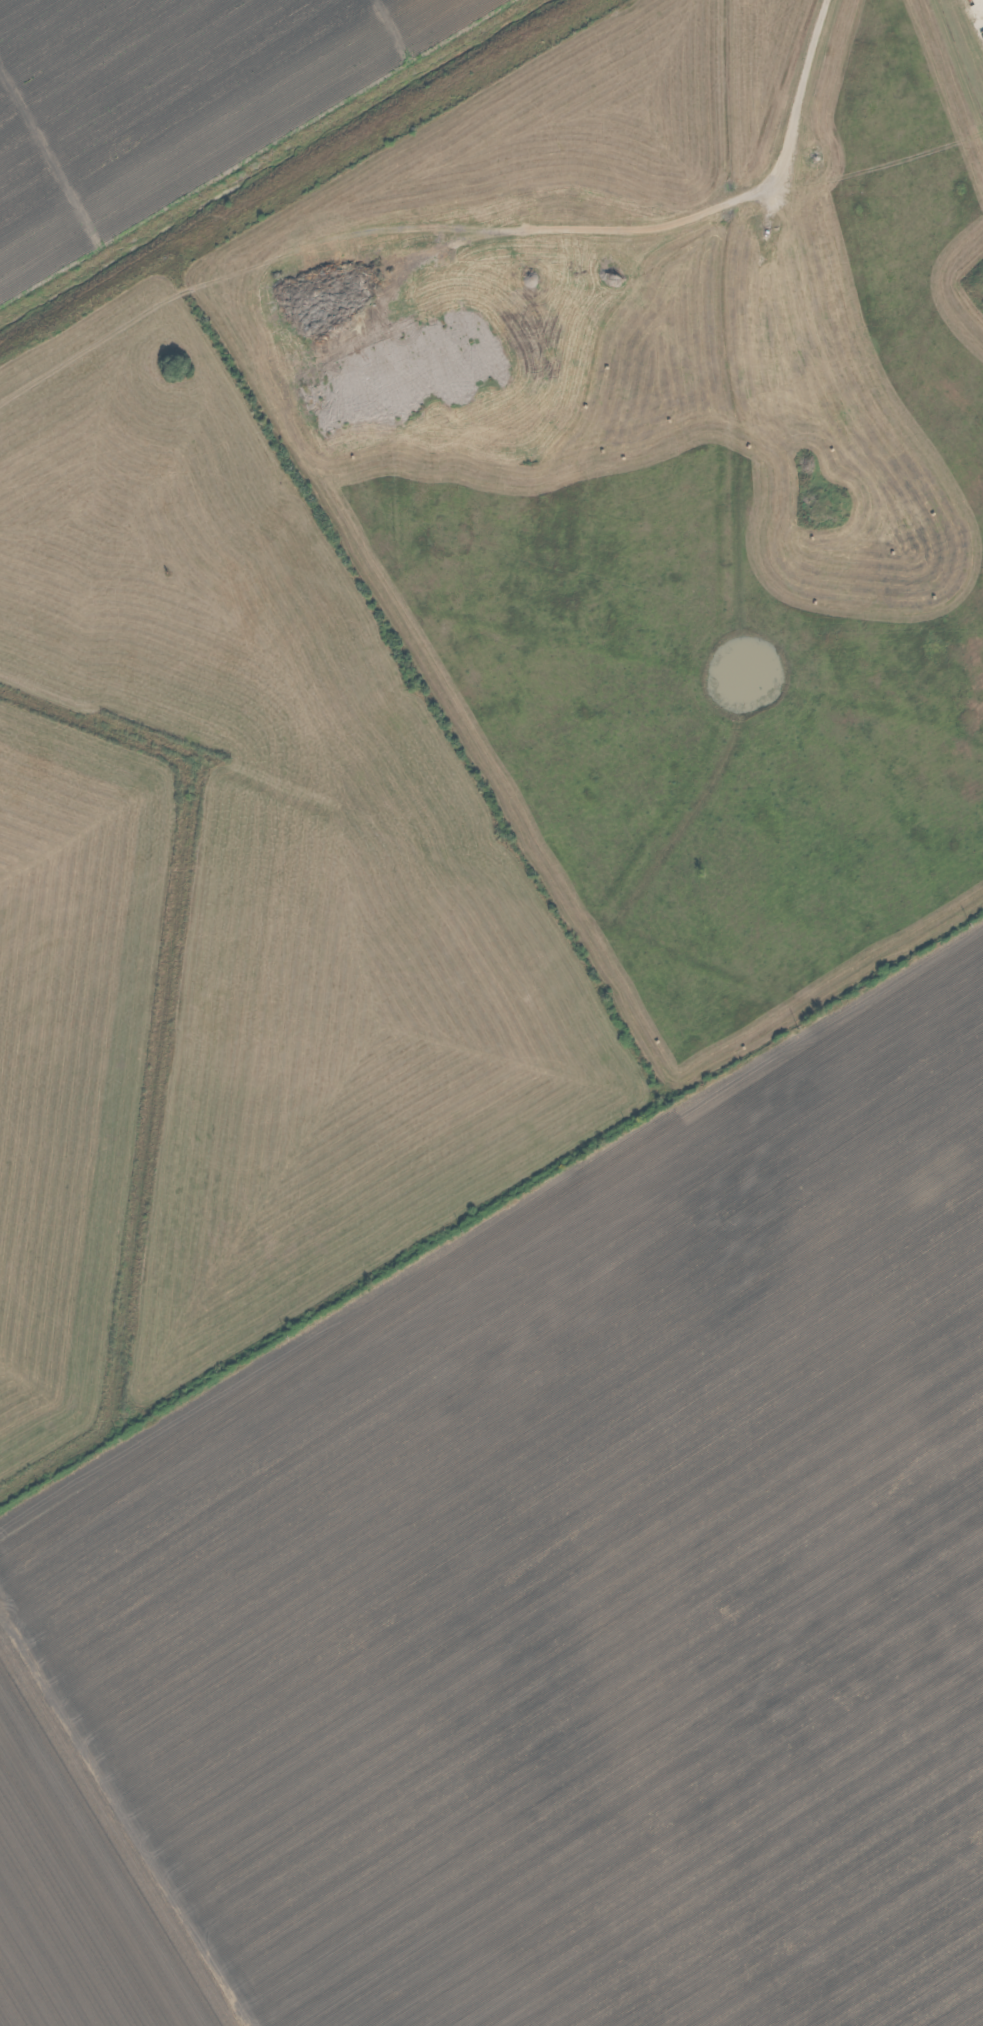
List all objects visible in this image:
road: (782, 161)

